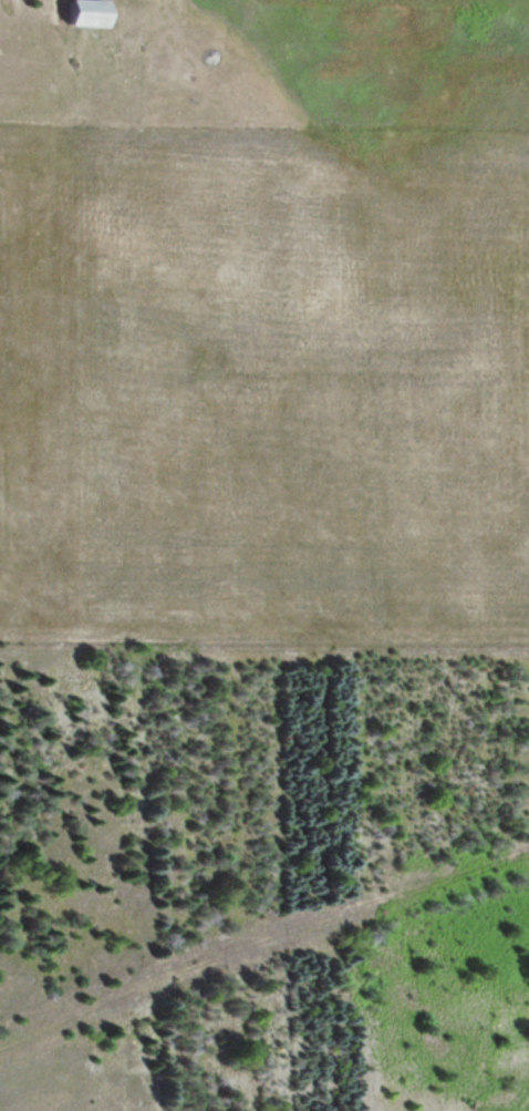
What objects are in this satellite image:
building: (80, 13)

